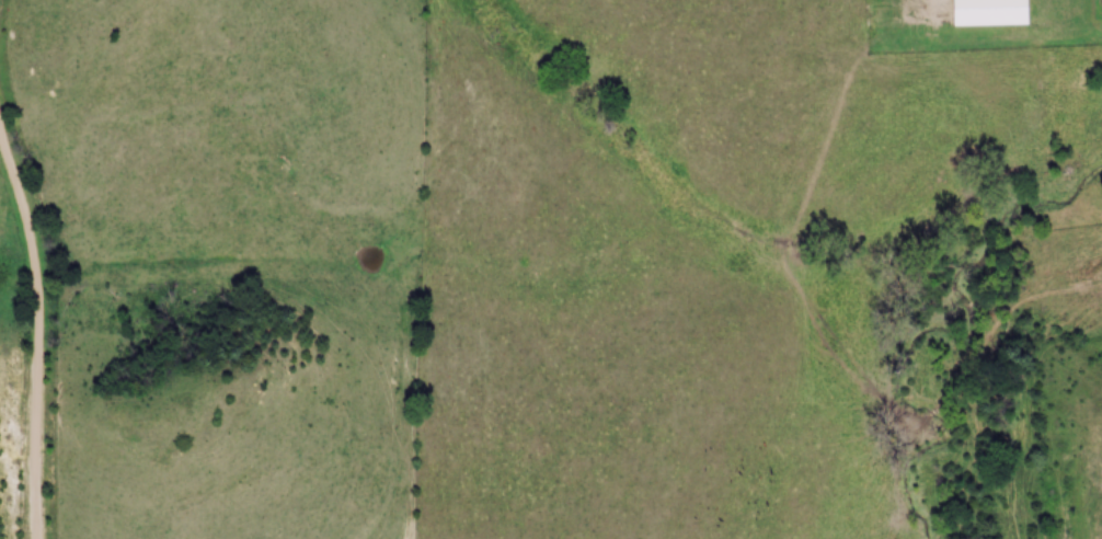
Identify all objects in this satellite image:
road: (36, 333)

